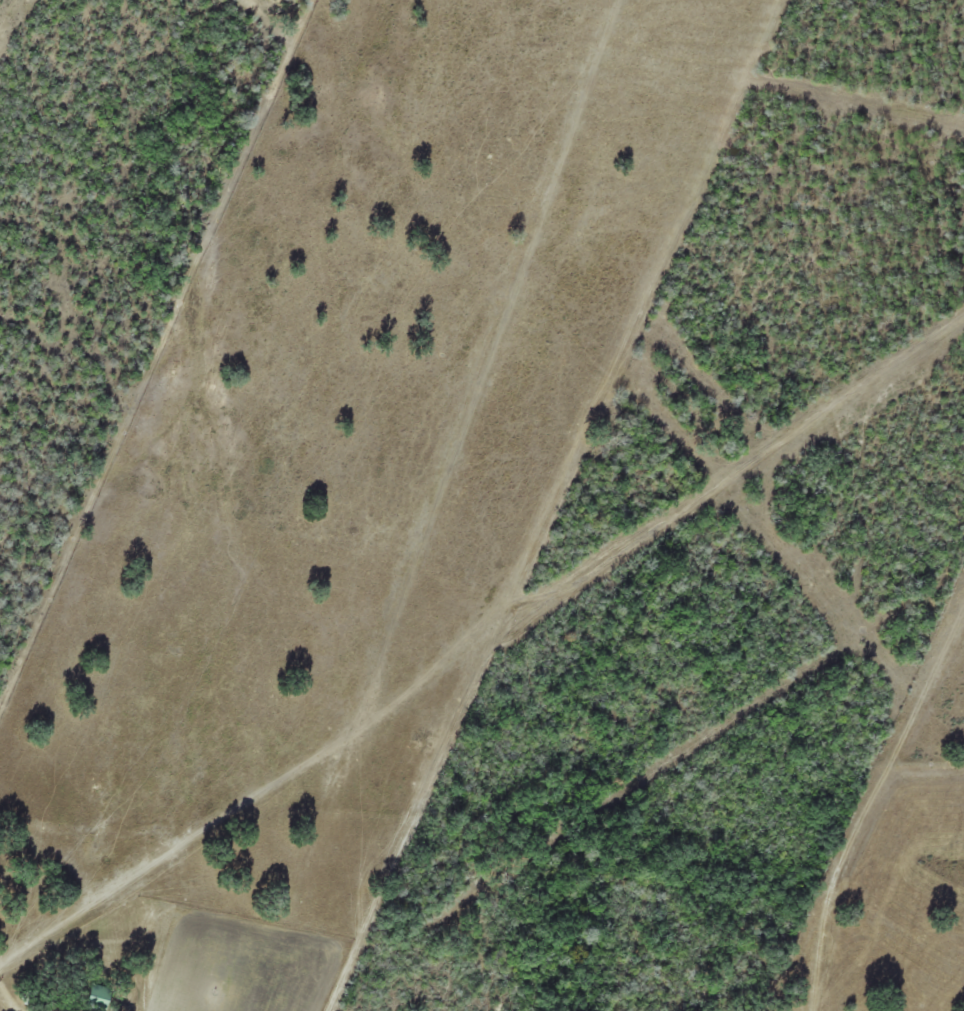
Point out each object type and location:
building: (95, 997)

